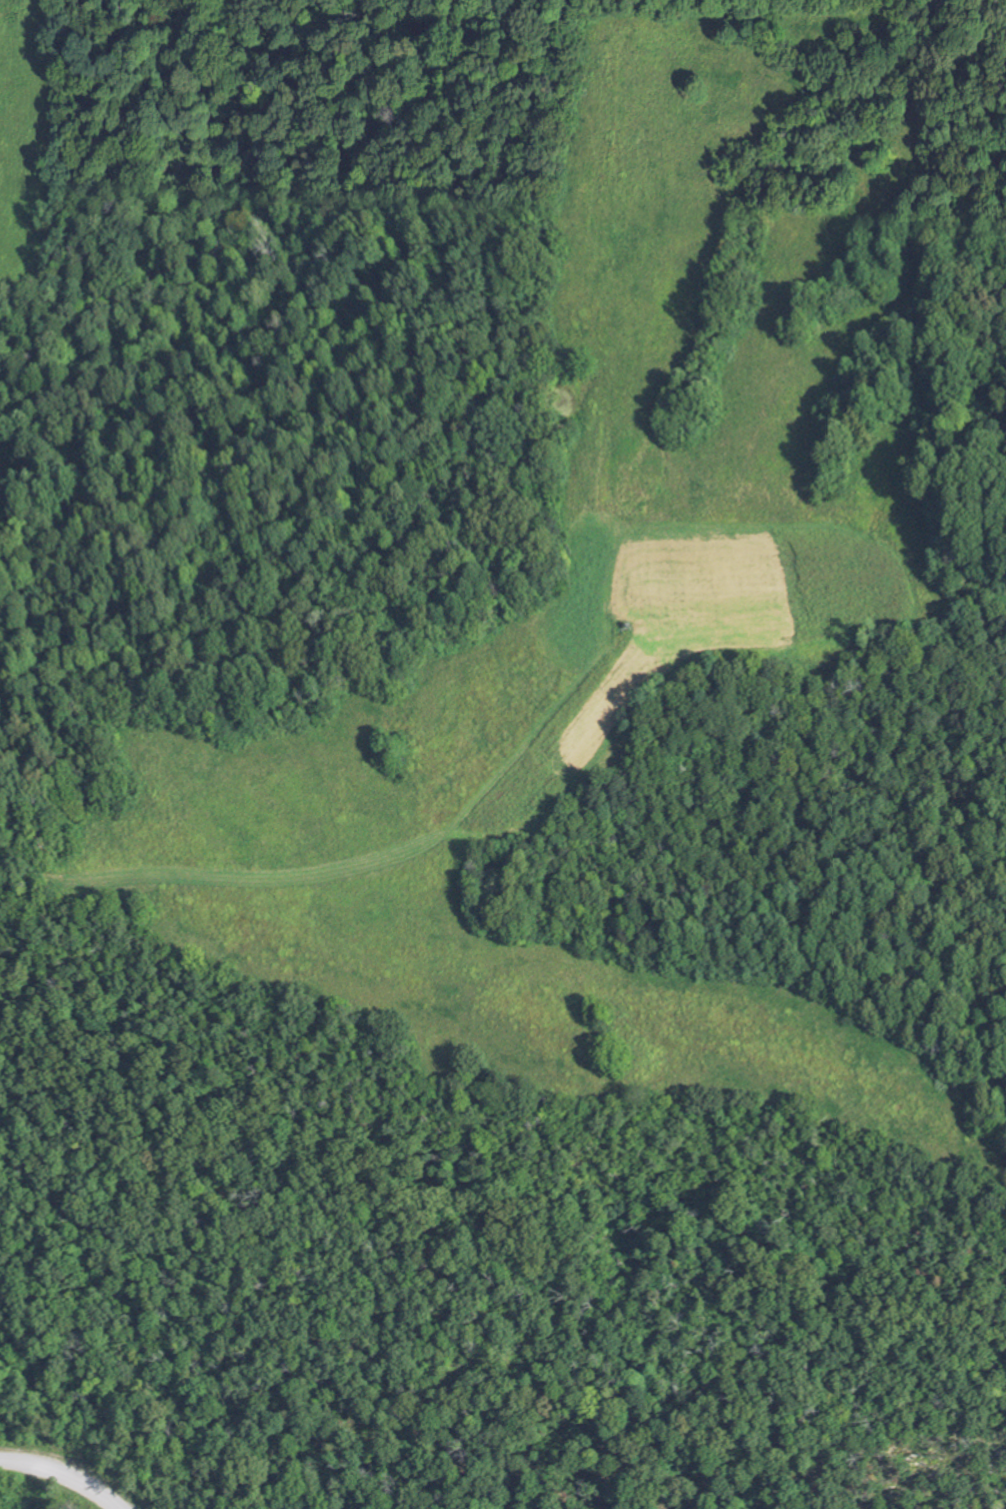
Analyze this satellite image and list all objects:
road: (62, 1473)

